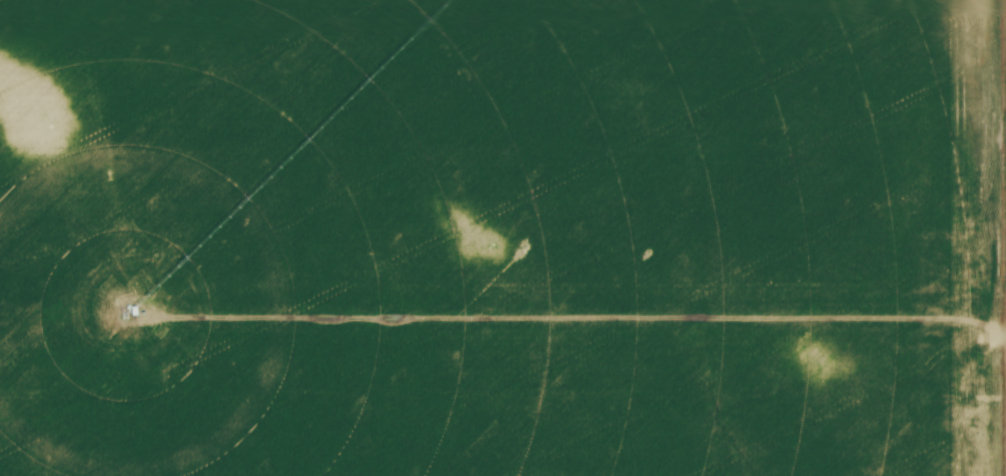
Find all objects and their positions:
crop: (489, 239)

